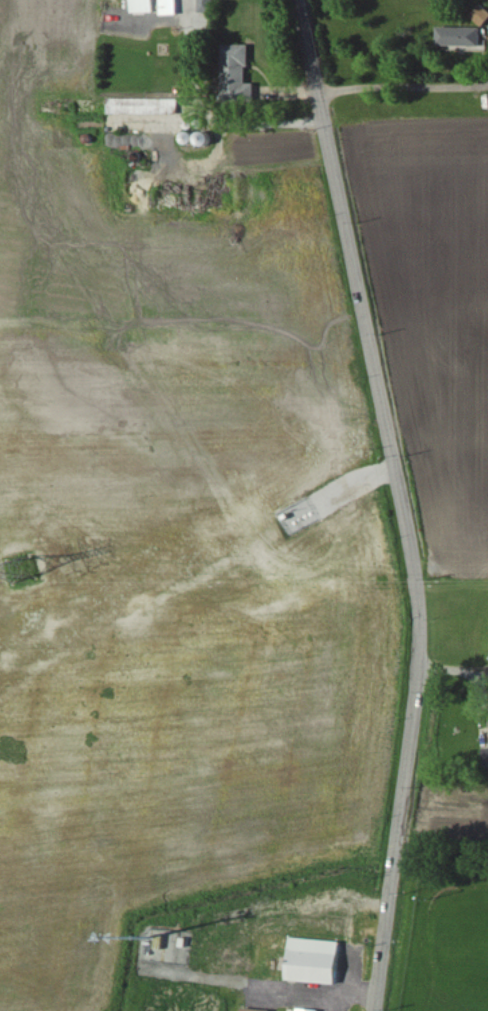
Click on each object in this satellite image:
building: (211, 6)
building: (148, 7)
building: (173, 8)
building: (484, 17)
building: (465, 38)
building: (245, 73)
road: (403, 86)
building: (147, 108)
road: (208, 113)
road: (401, 502)
power tower: (23, 570)
park: (441, 929)
building: (319, 962)
building: (248, 1010)
building: (303, 1010)

